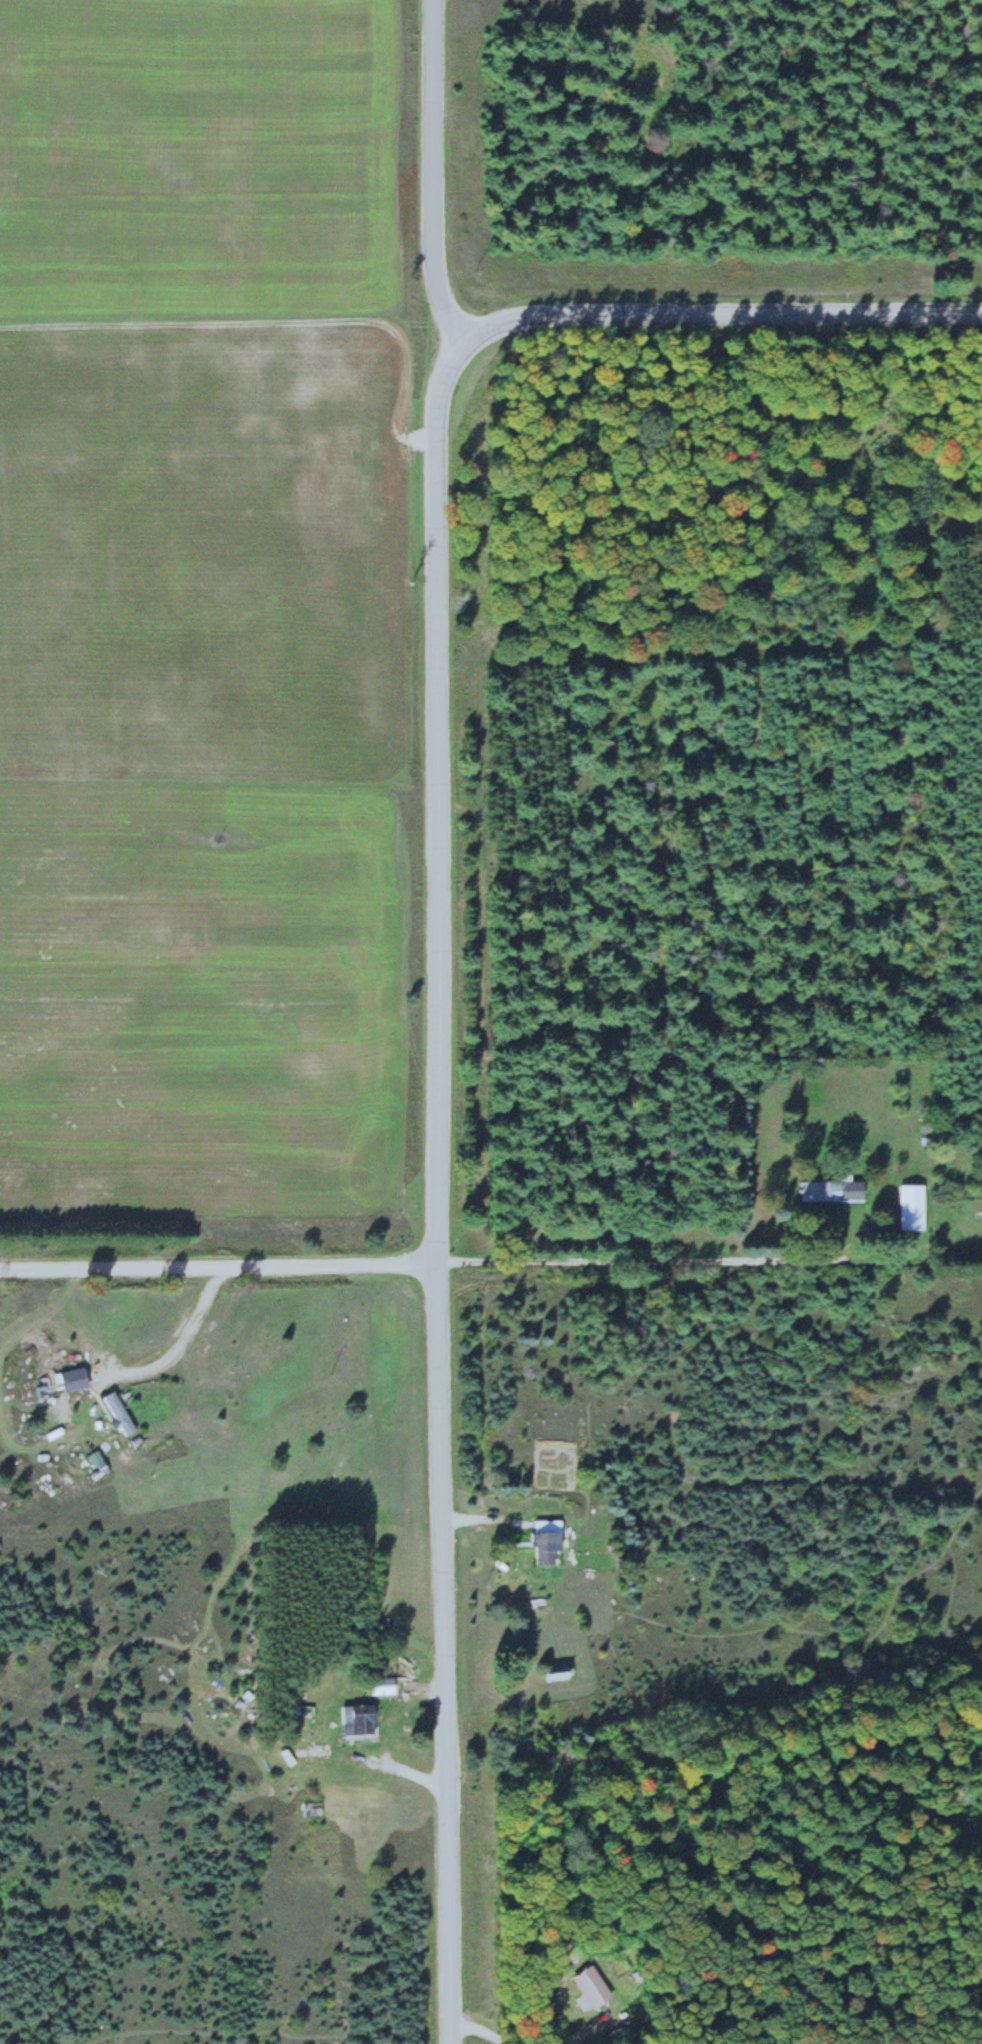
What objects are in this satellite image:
road: (430, 176)
road: (719, 314)
building: (828, 1189)
road: (431, 1190)
building: (907, 1207)
road: (661, 1259)
road: (215, 1267)
road: (175, 1346)
building: (72, 1374)
building: (118, 1408)
road: (480, 1518)
building: (541, 1541)
building: (553, 1673)
building: (378, 1687)
road: (388, 1711)
building: (353, 1720)
road: (387, 1765)
building: (307, 1809)
building: (588, 1987)

